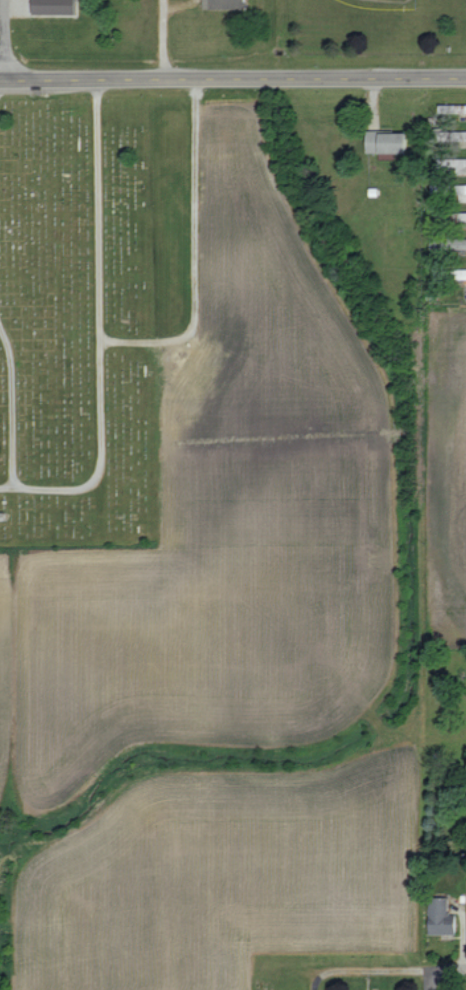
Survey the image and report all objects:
building: (220, 4)
building: (49, 7)
park: (371, 27)
road: (162, 39)
road: (2, 40)
road: (234, 79)
road: (1, 81)
building: (450, 108)
building: (456, 136)
building: (382, 141)
building: (450, 163)
building: (459, 193)
building: (461, 216)
building: (456, 243)
building: (456, 273)
park: (79, 322)
building: (465, 887)
building: (437, 917)
road: (402, 969)
road: (429, 979)

